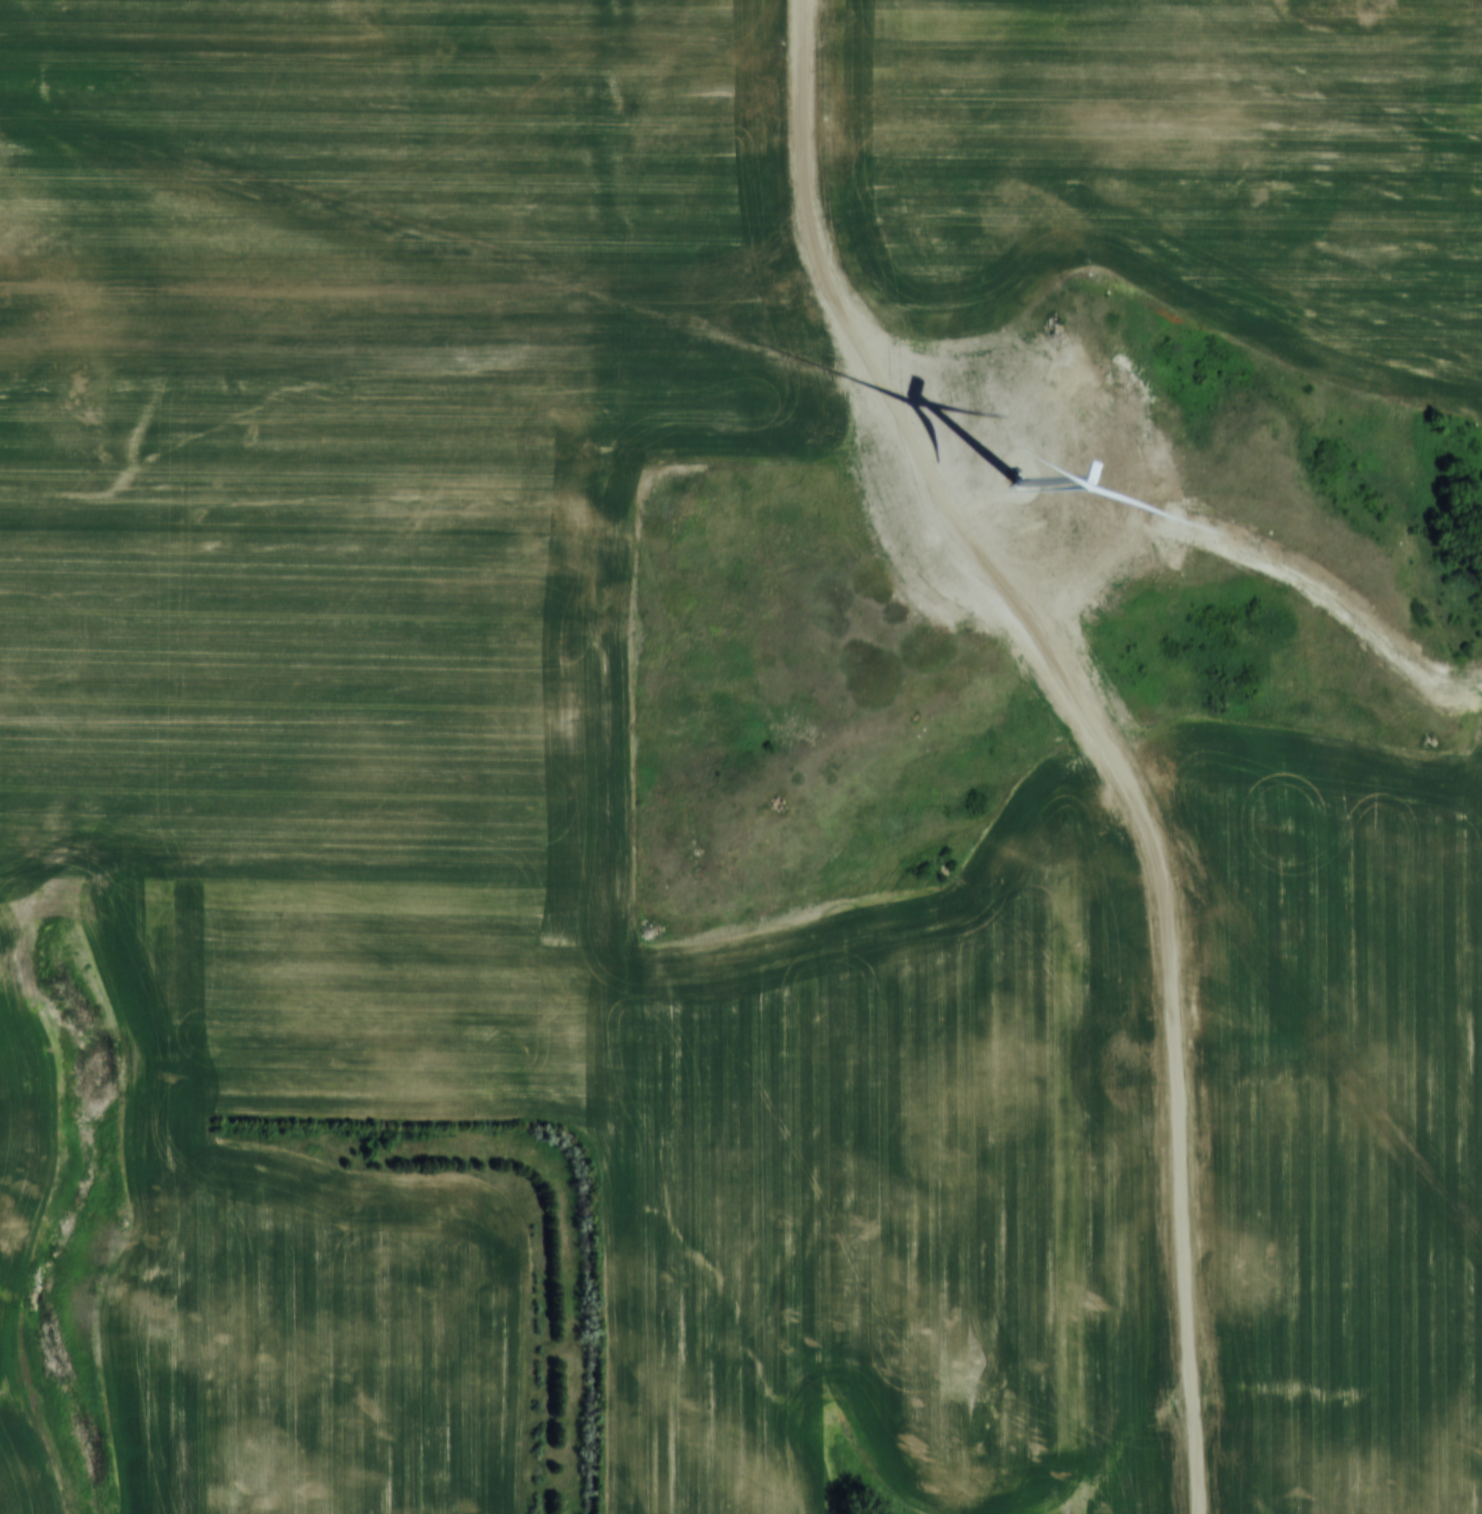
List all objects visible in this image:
wind turbine: (1010, 472)

